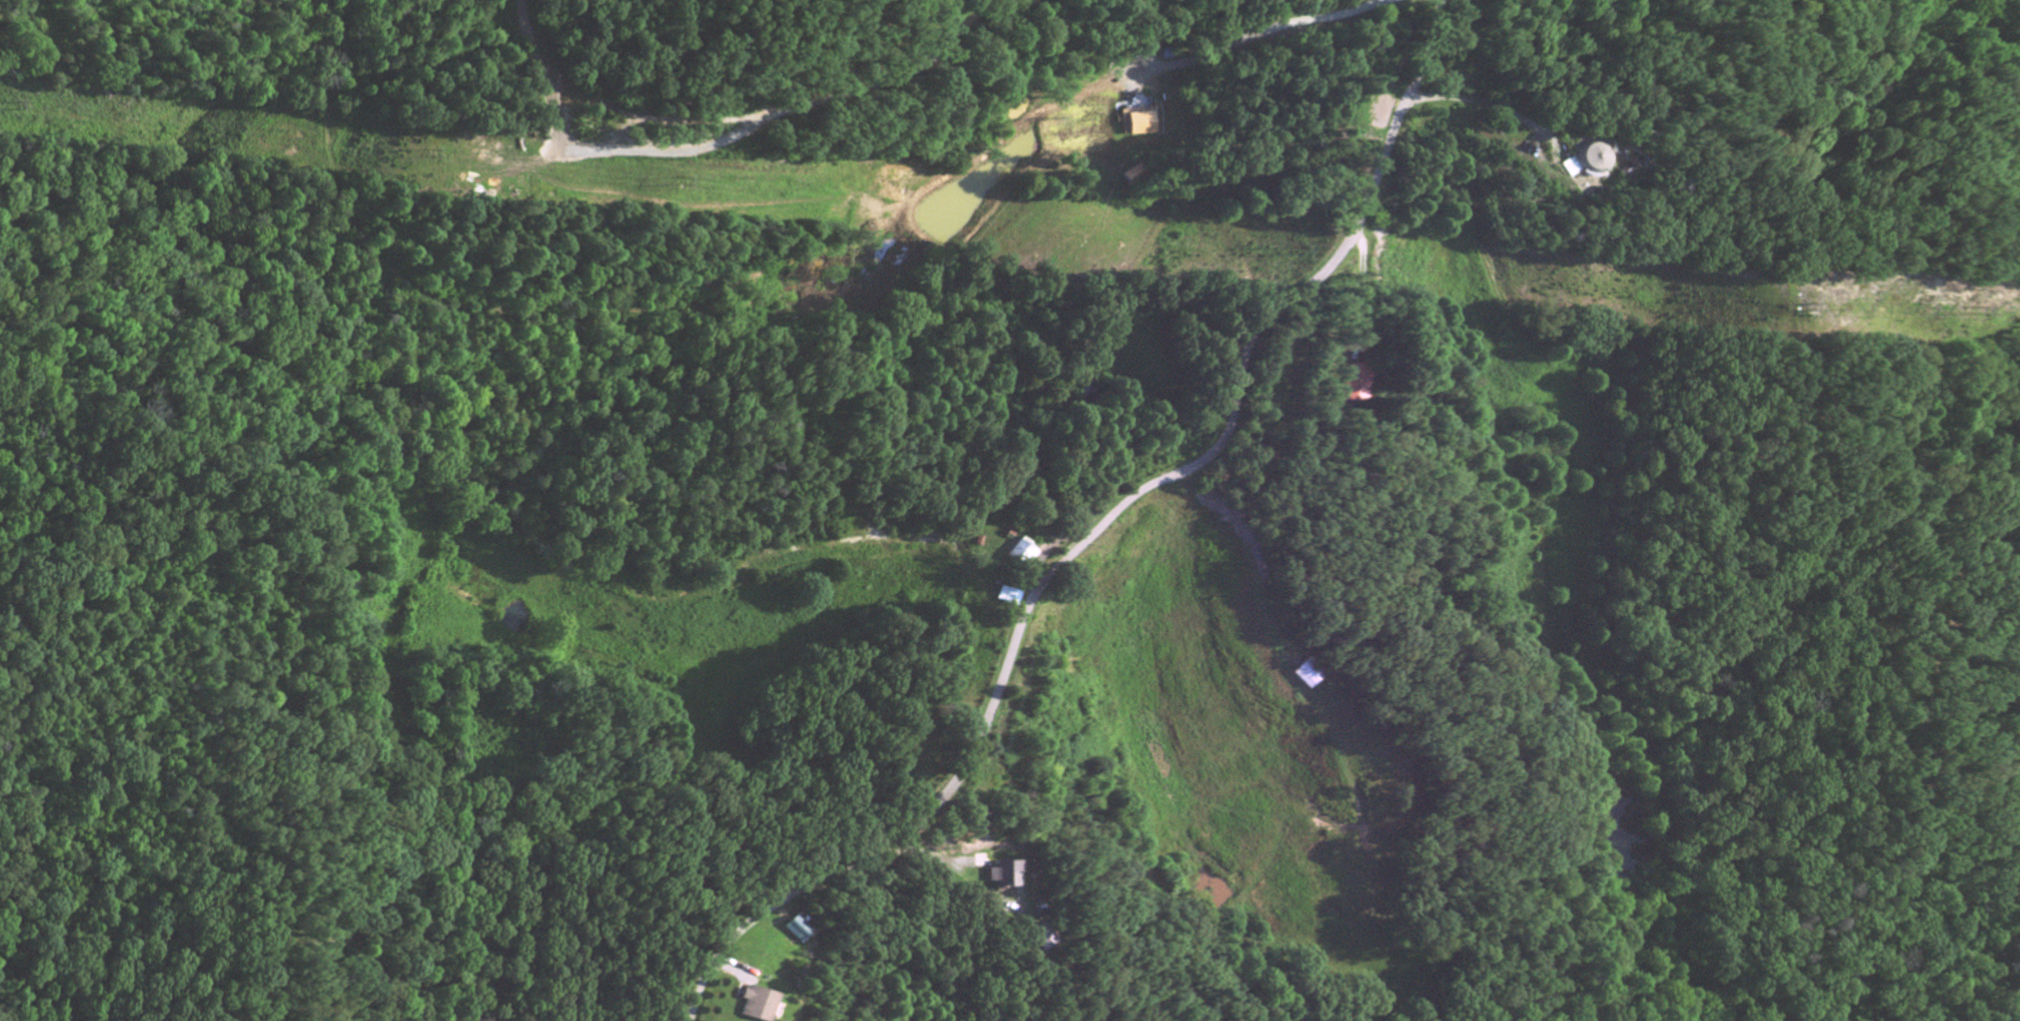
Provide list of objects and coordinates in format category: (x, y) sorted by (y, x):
road: (1271, 36)
road: (1482, 104)
power tower: (13, 107)
building: (1145, 126)
power tower: (429, 153)
building: (1588, 166)
building: (1624, 175)
building: (1138, 177)
power tower: (676, 182)
power tower: (1304, 251)
power tower: (1800, 312)
power tower: (1965, 313)
building: (1353, 388)
road: (1095, 527)
building: (1020, 554)
building: (1000, 876)
building: (793, 931)
building: (1041, 942)
building: (755, 1005)

